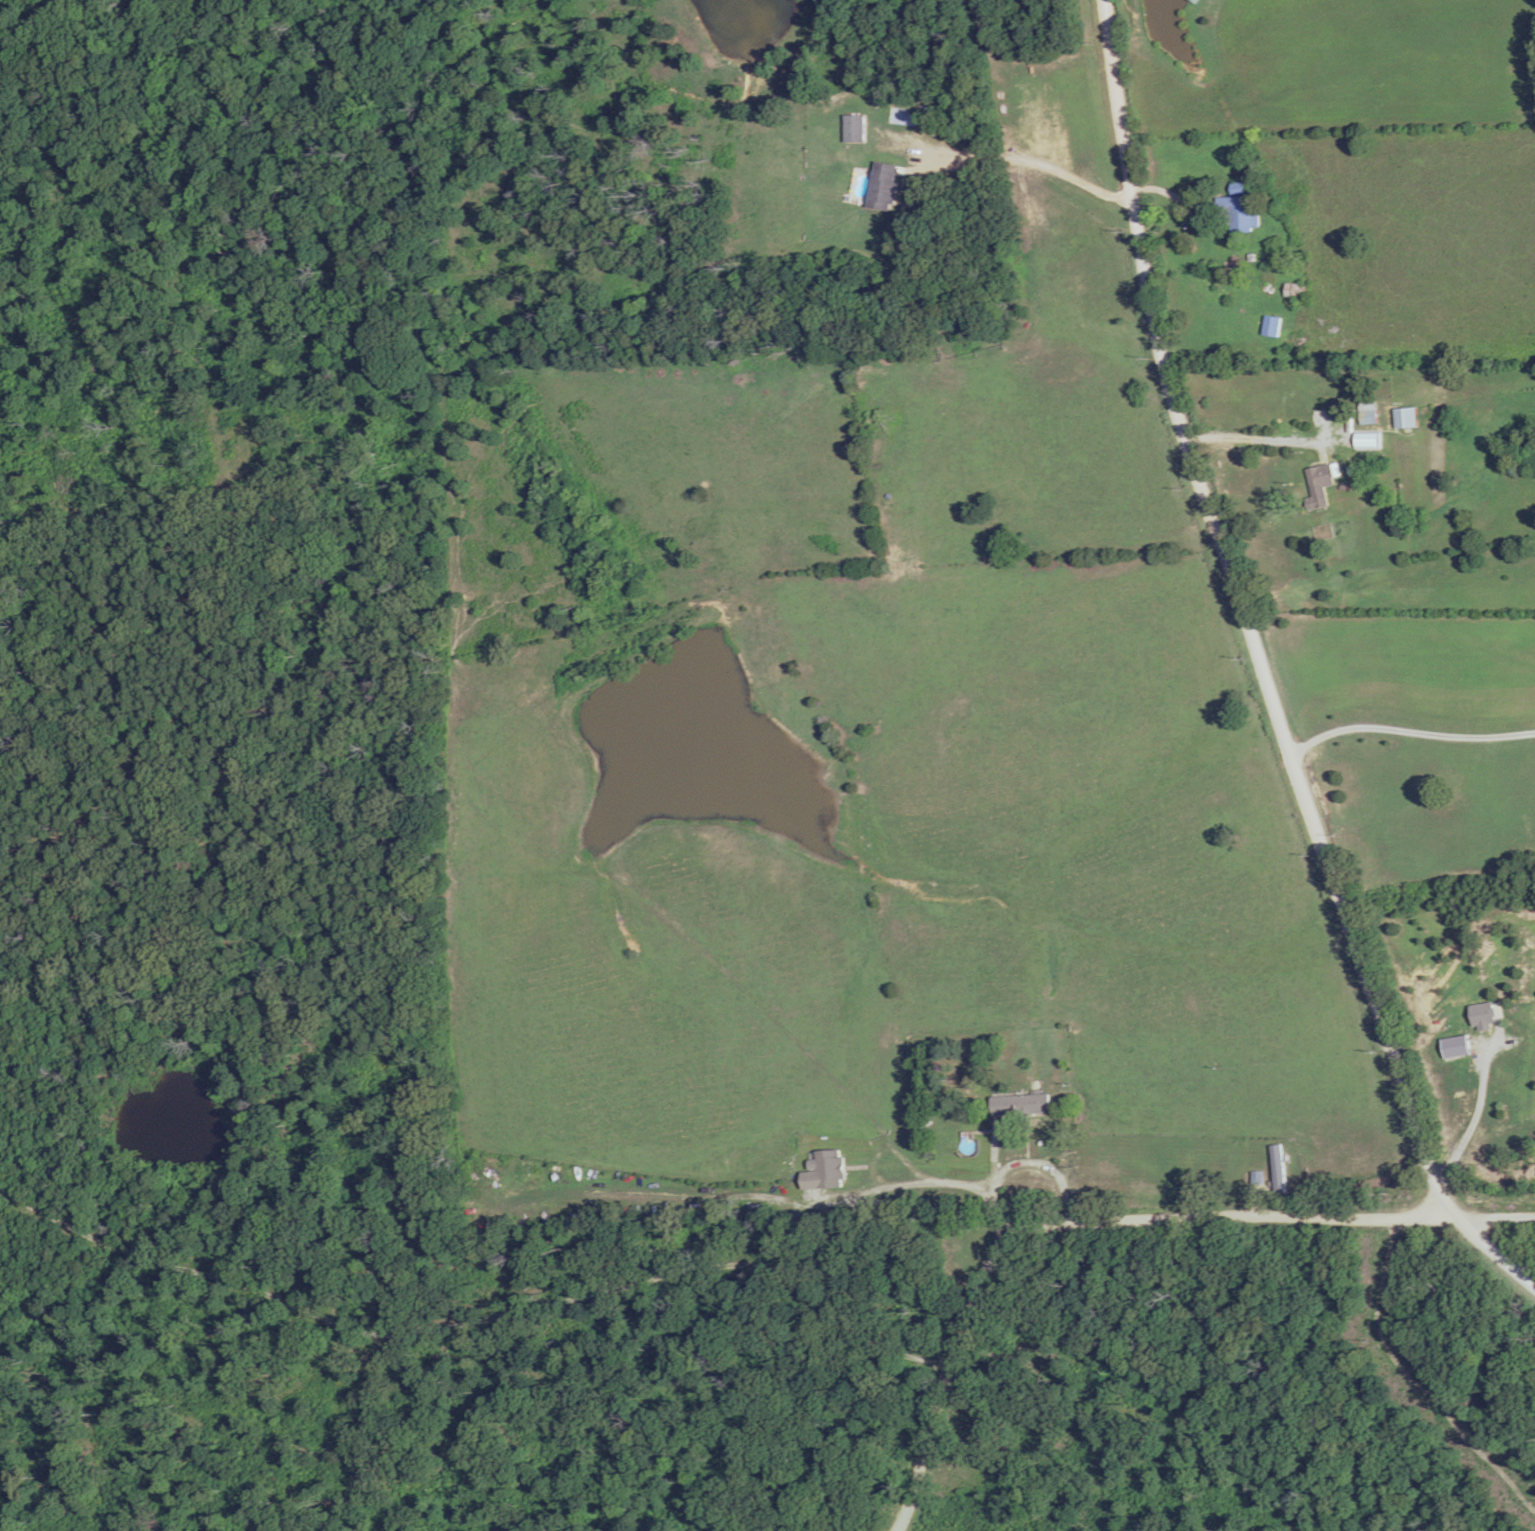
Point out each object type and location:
road: (996, 79)
building: (853, 128)
road: (1025, 163)
building: (882, 186)
building: (1235, 191)
building: (1237, 212)
building: (1210, 284)
building: (1289, 339)
building: (1404, 418)
building: (1319, 484)
road: (1264, 670)
building: (1019, 1105)
road: (1021, 1168)
building: (828, 1169)
building: (1276, 1169)
road: (1495, 1216)
road: (1067, 1226)
road: (476, 1323)

